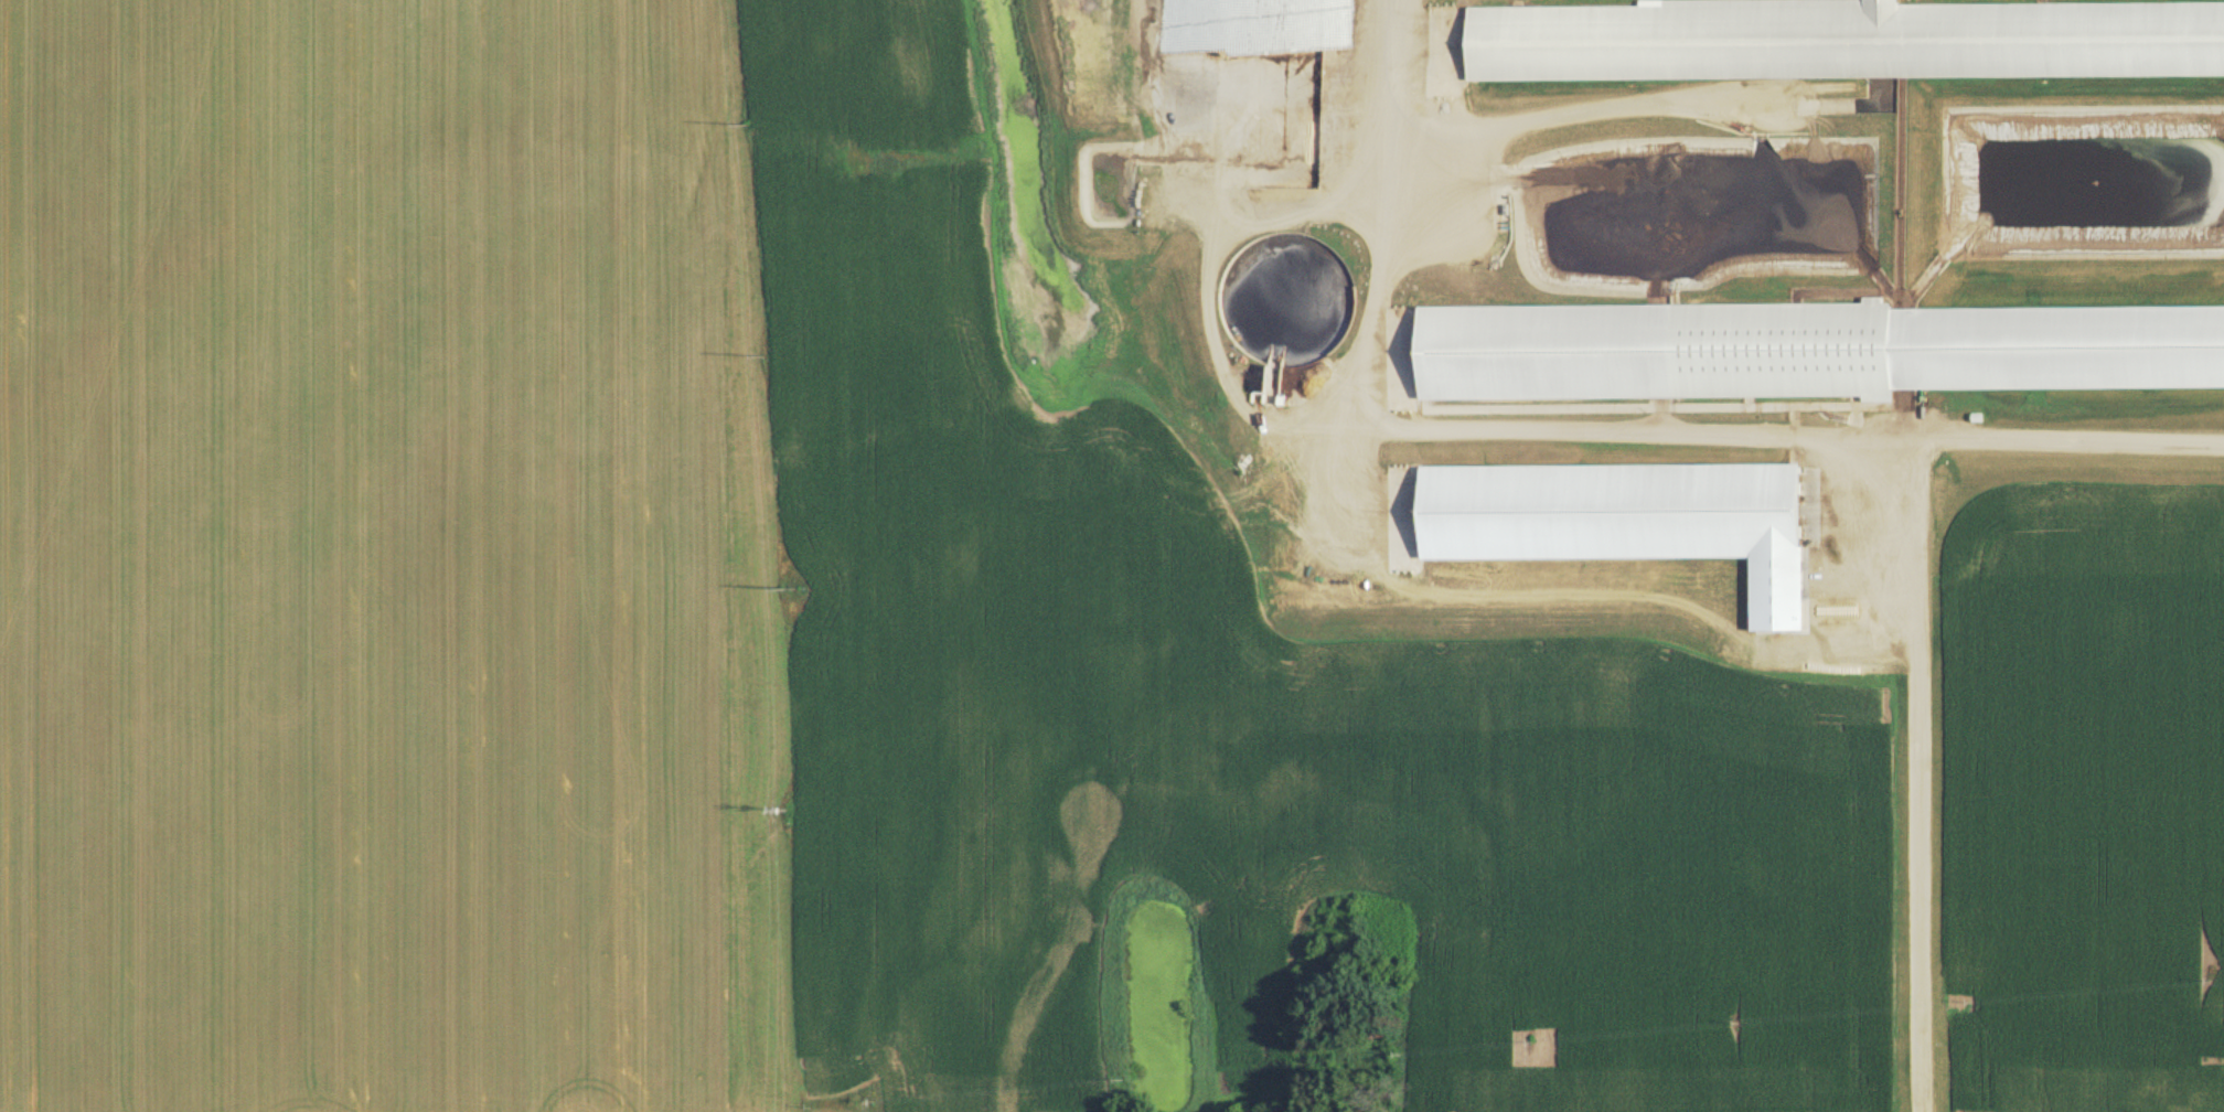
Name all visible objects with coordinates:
building: (2164, 42)
building: (1253, 95)
building: (2192, 352)
building: (1750, 354)
road: (1431, 431)
road: (2073, 442)
road: (1922, 780)
building: (2180, 1090)

